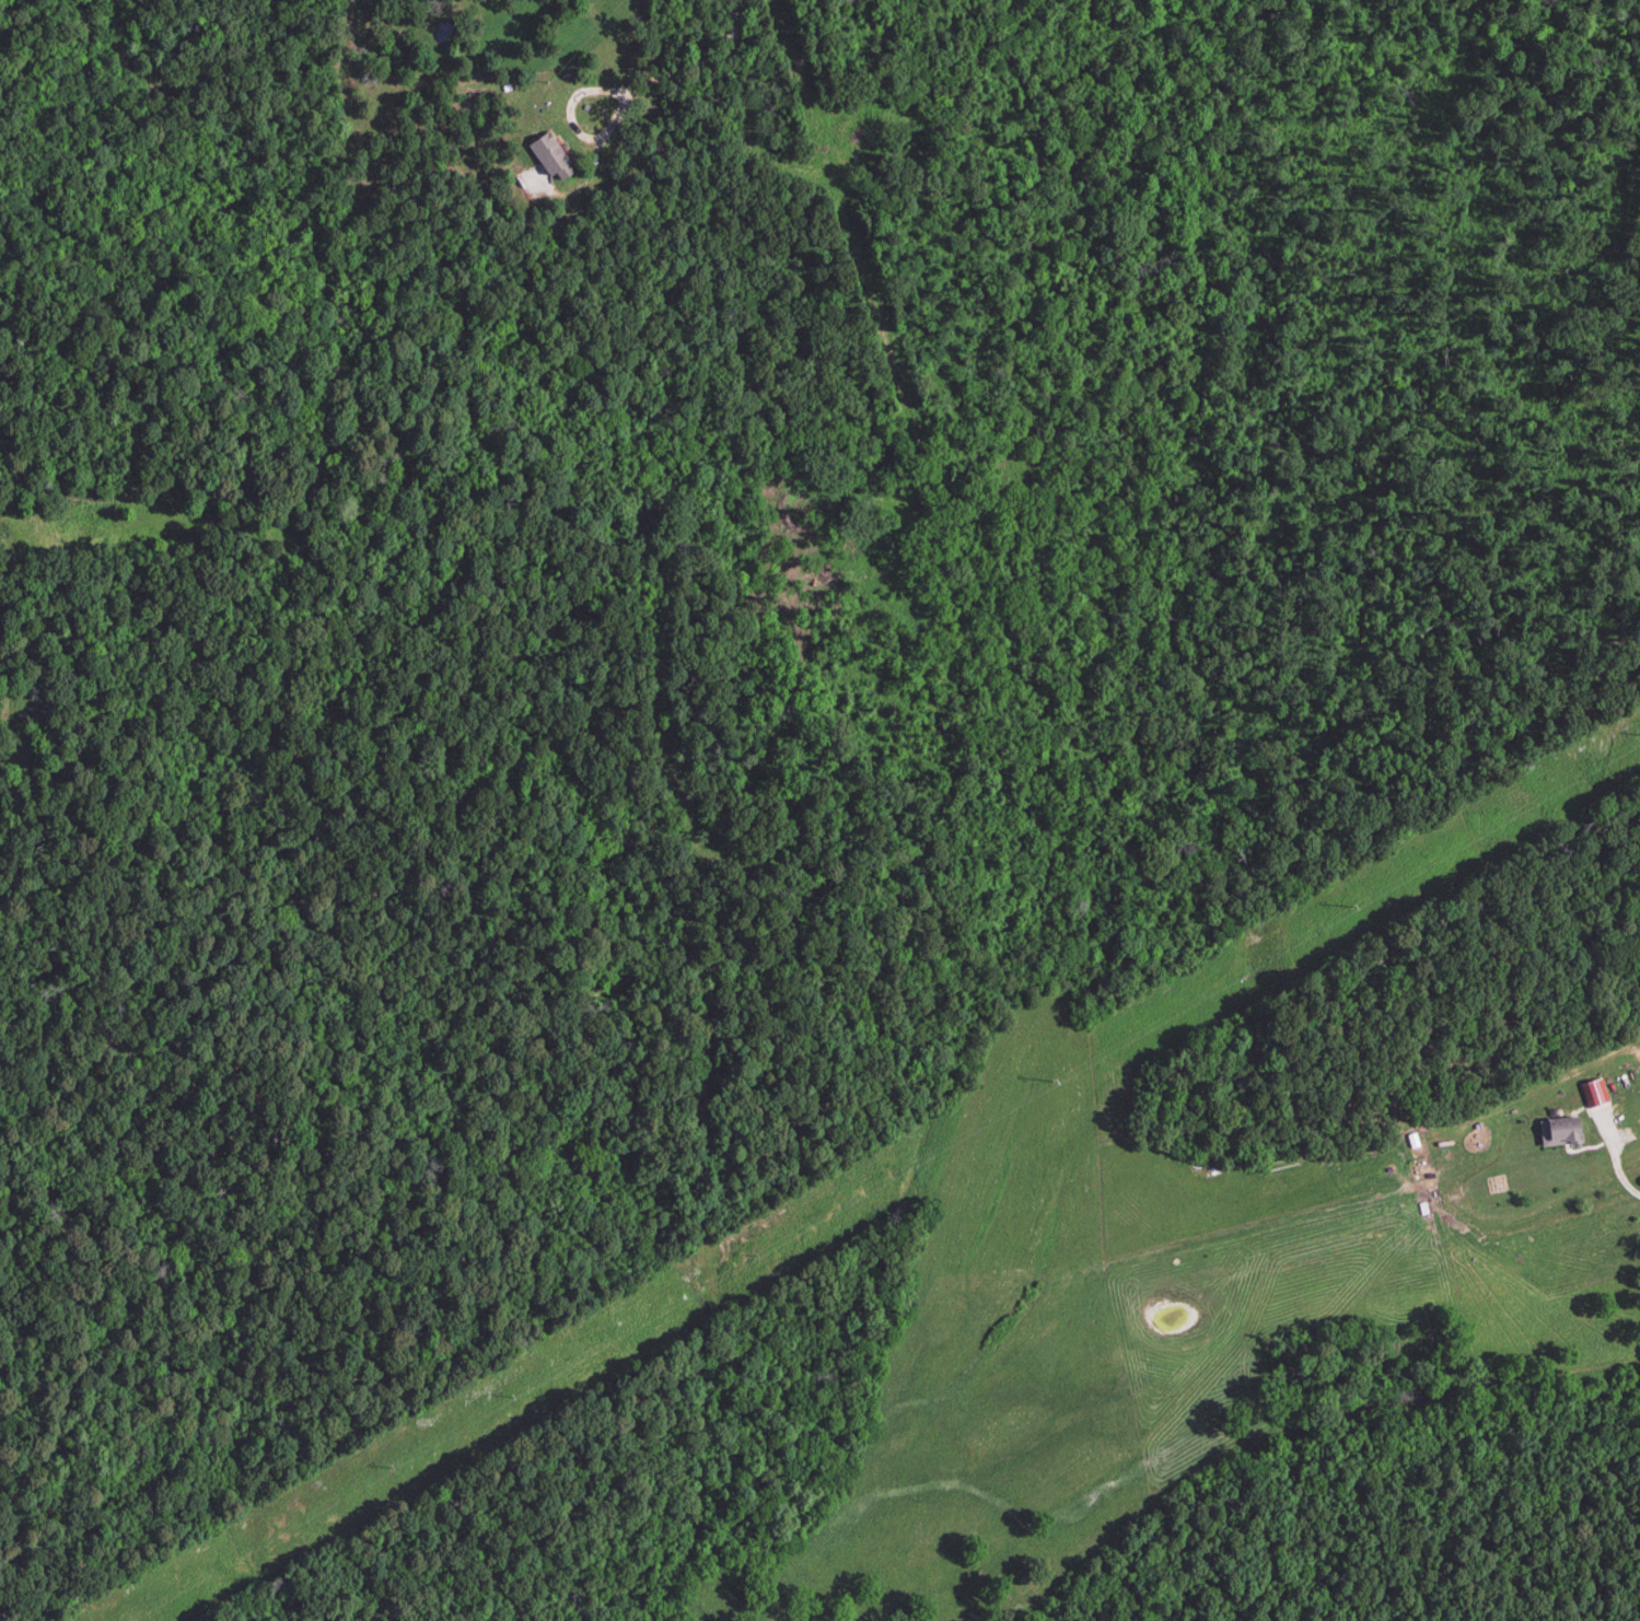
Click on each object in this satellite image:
road: (699, 50)
road: (577, 113)
building: (547, 158)
power tower: (1349, 909)
power tower: (1051, 1080)
building: (1593, 1096)
building: (1556, 1132)
road: (1615, 1158)
power tower: (747, 1257)
power tower: (504, 1397)
power tower: (386, 1468)

